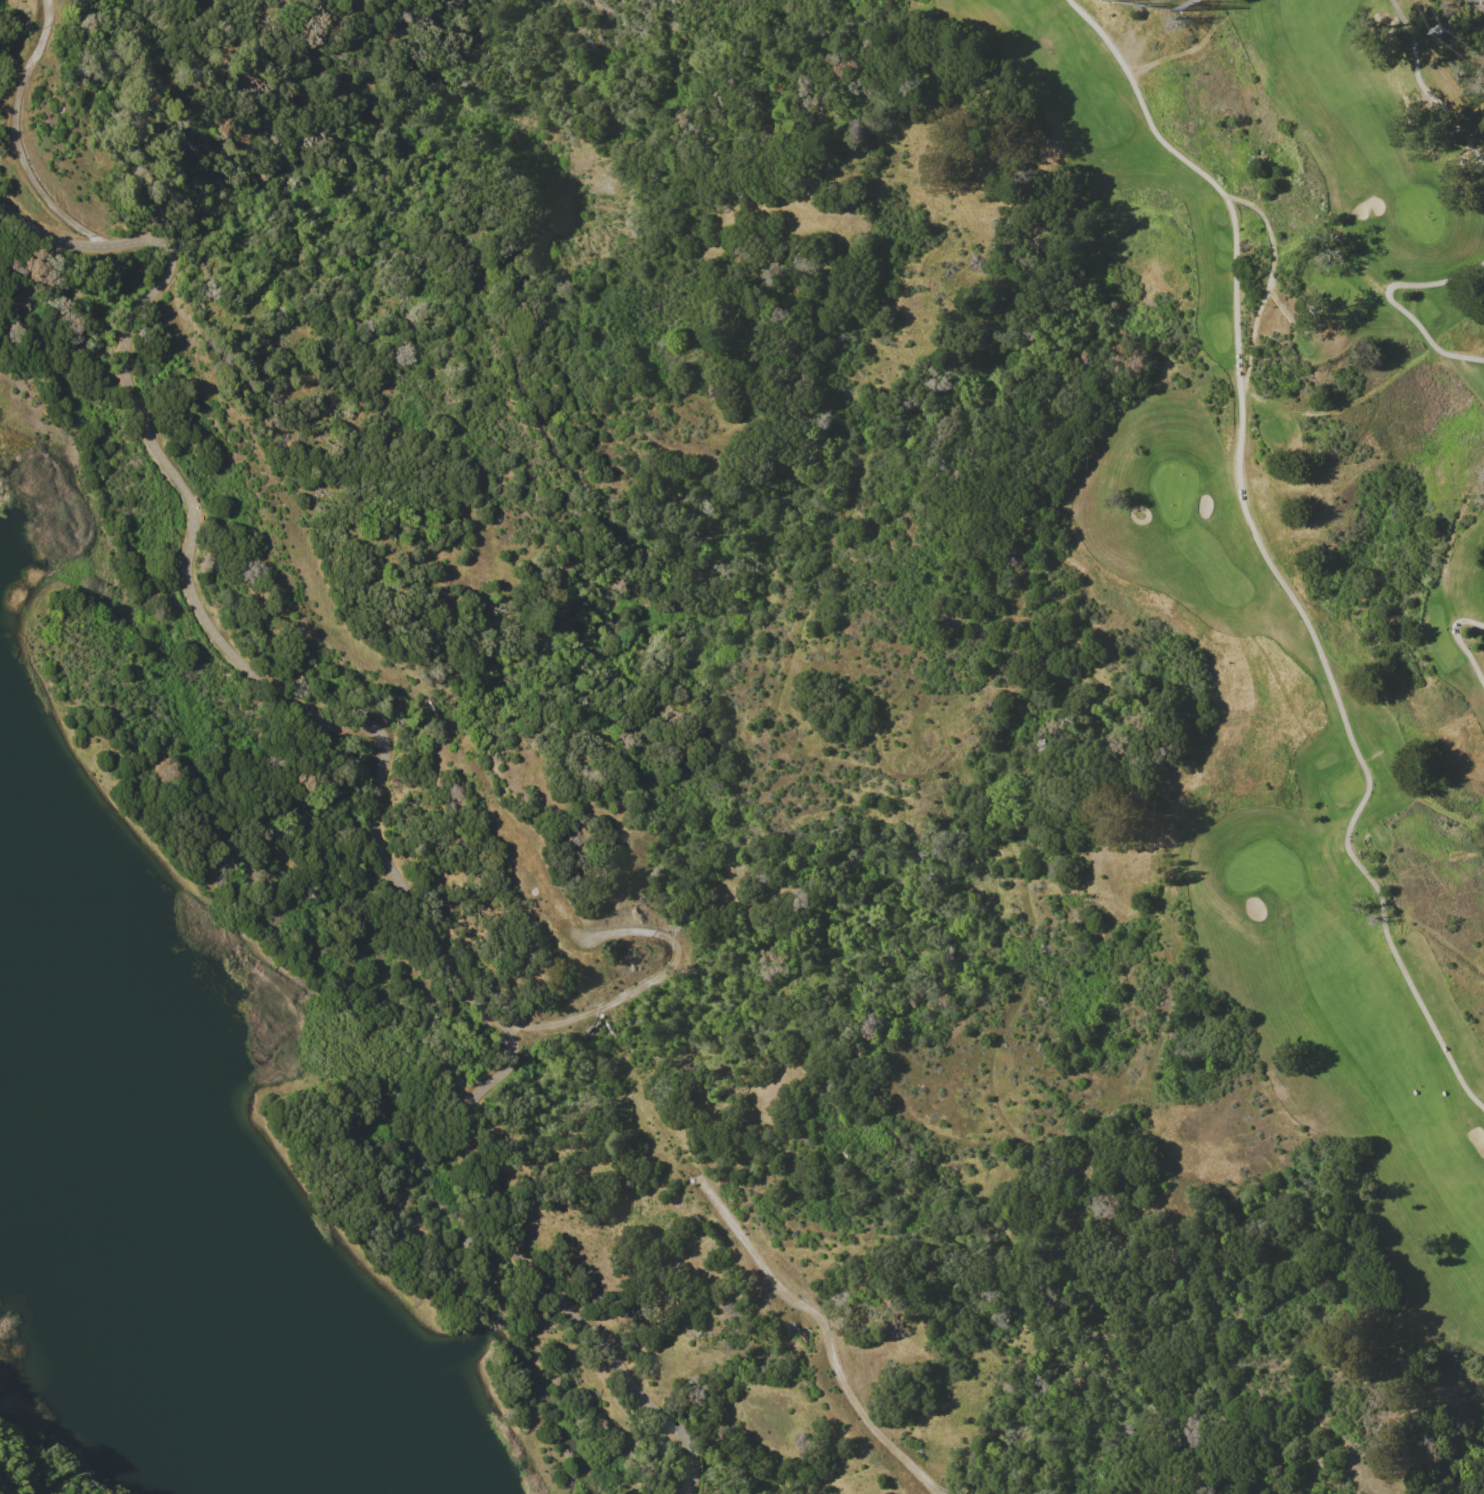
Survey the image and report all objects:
road: (1479, 8)
power tower: (1443, 28)
road: (1424, 88)
road: (14, 138)
park: (1419, 212)
road: (1390, 301)
park: (1176, 491)
park: (1318, 547)
road: (1265, 554)
road: (1458, 640)
road: (384, 772)
park: (1266, 868)
road: (646, 981)
road: (823, 1329)

